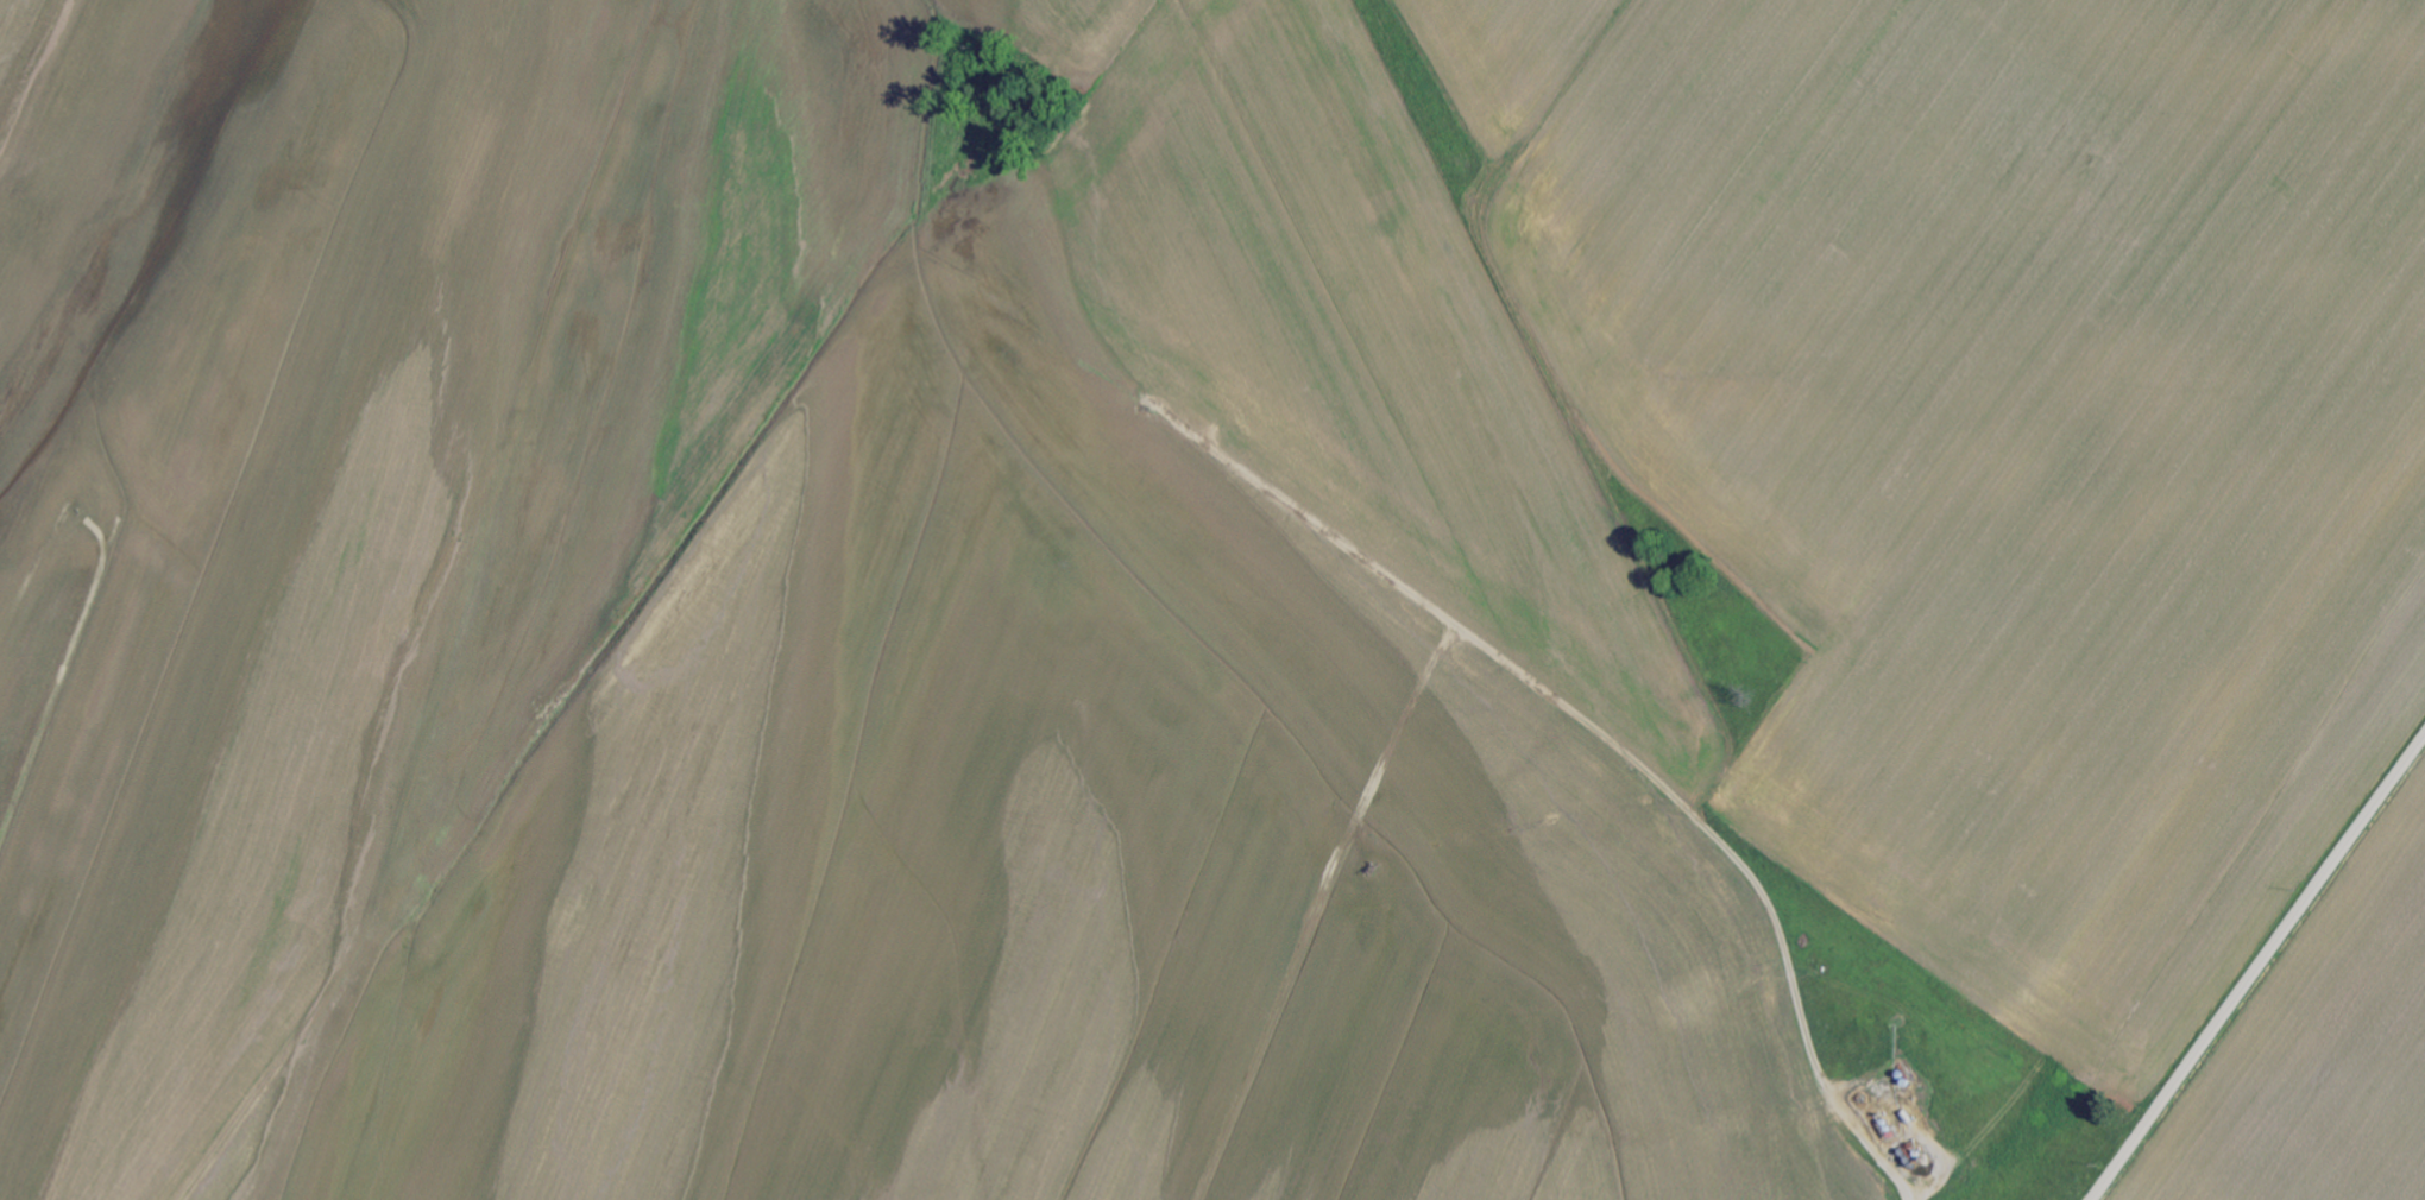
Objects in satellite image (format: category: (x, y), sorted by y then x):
road: (2257, 967)
road: (1903, 1176)

